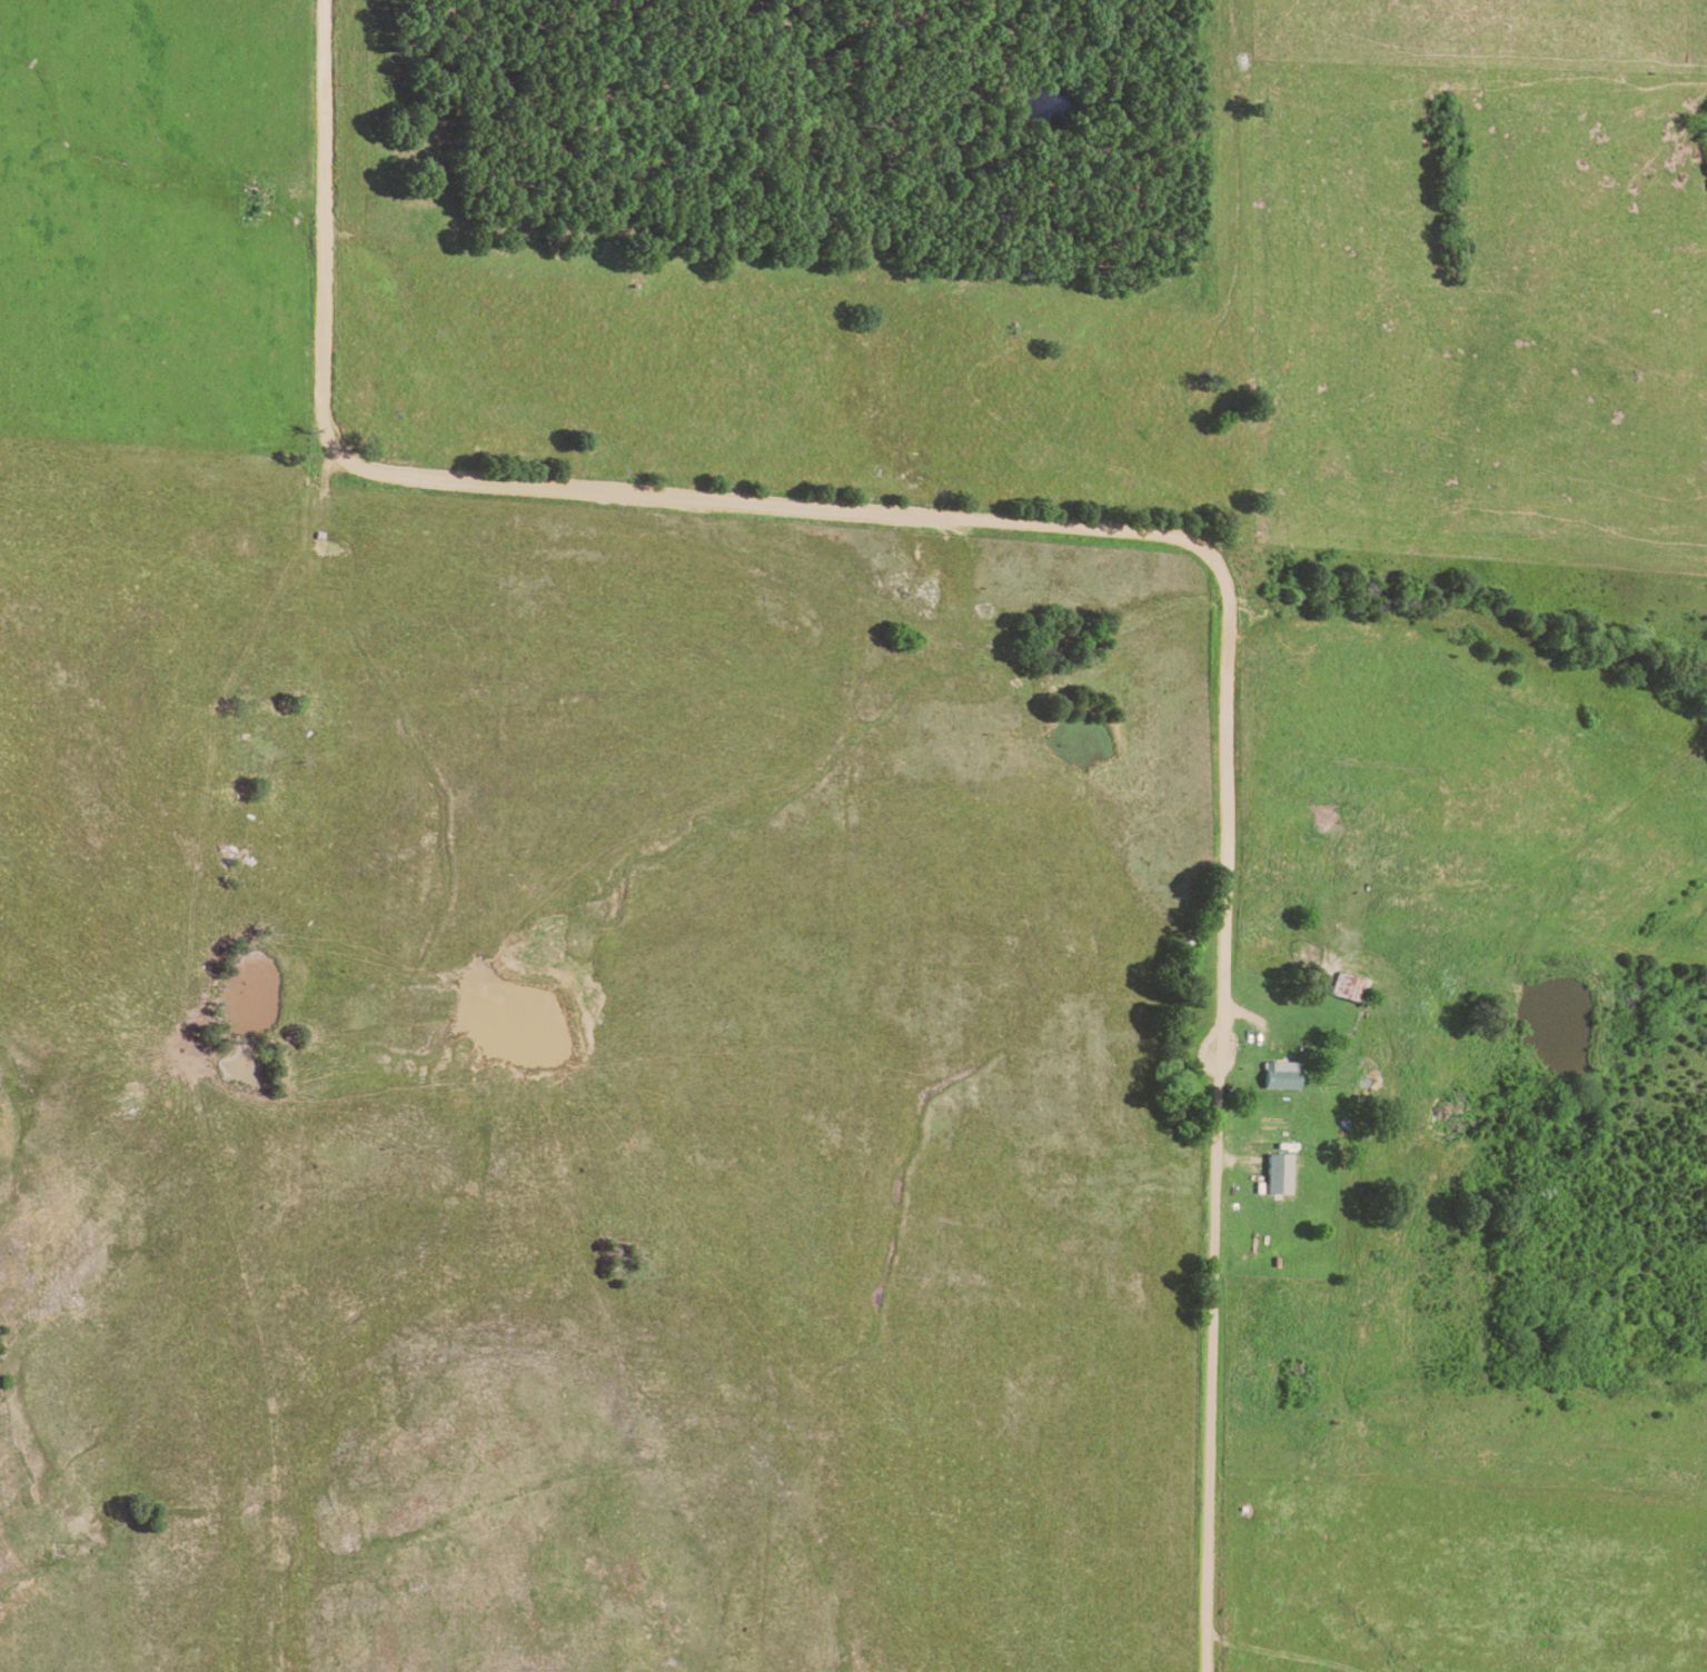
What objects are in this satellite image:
road: (1704, 2)
road: (1103, 530)
building: (1347, 987)
building: (1280, 1075)
building: (1280, 1174)

